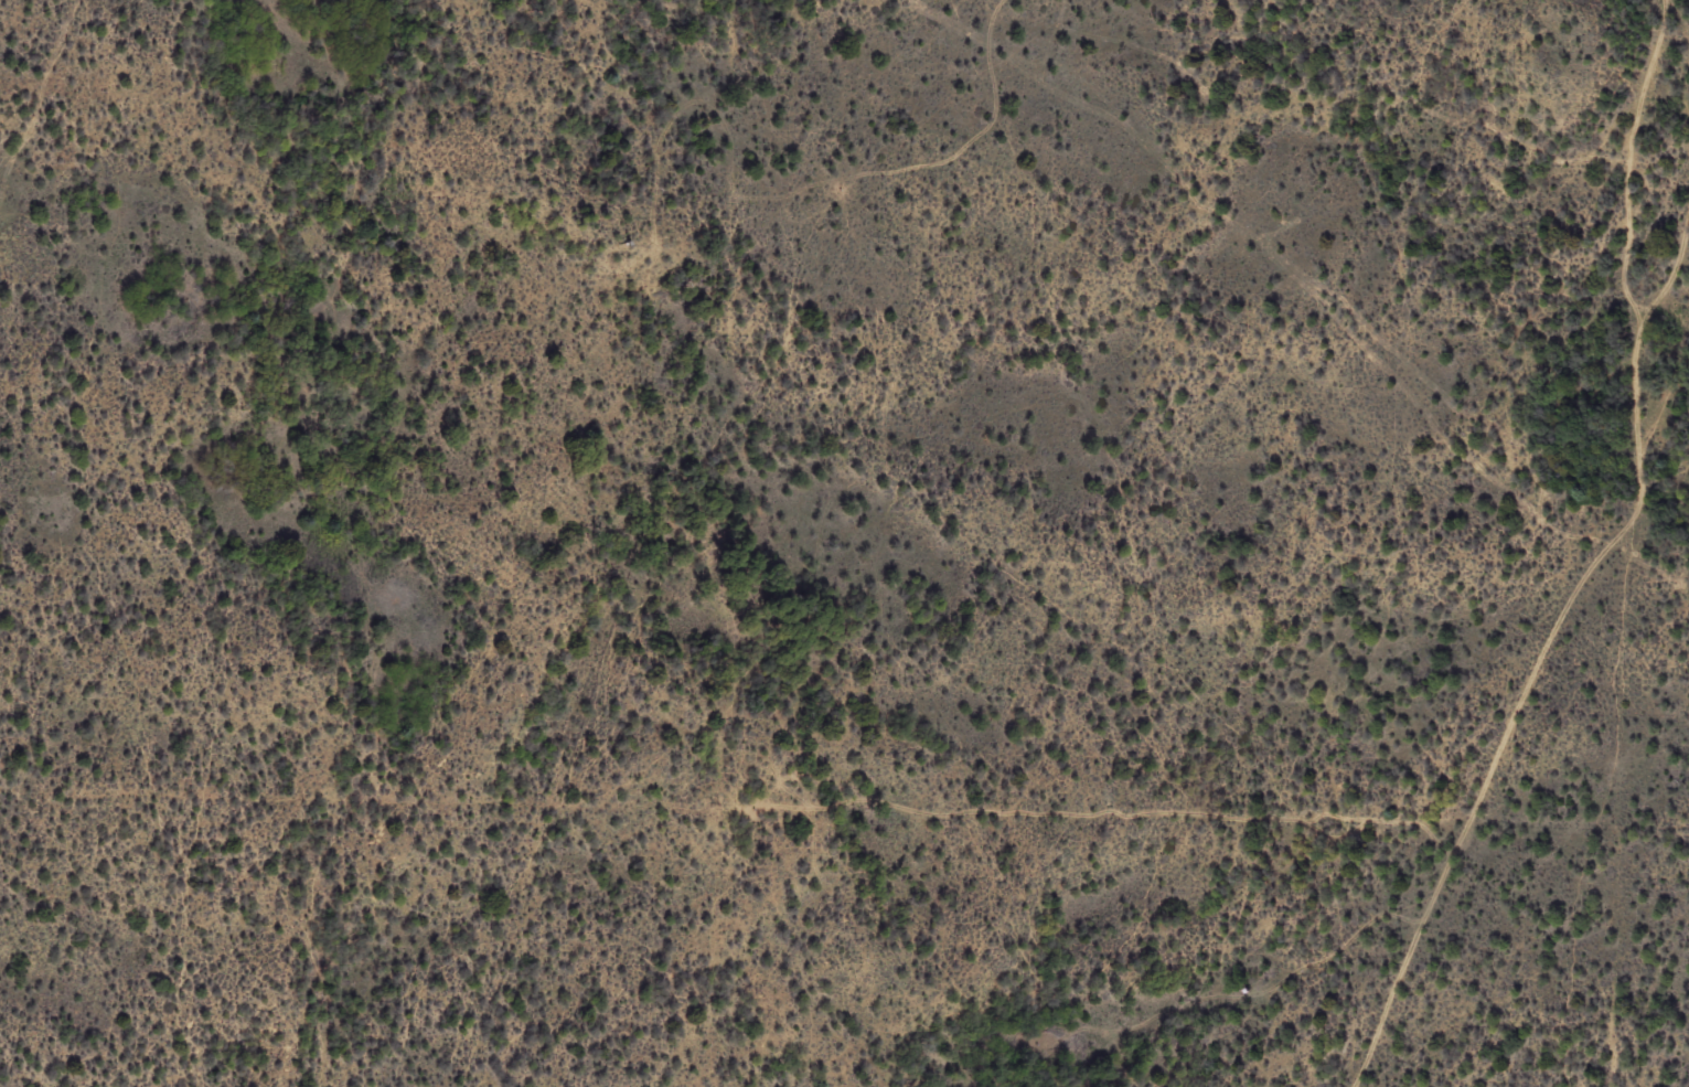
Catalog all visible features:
road: (1537, 683)

